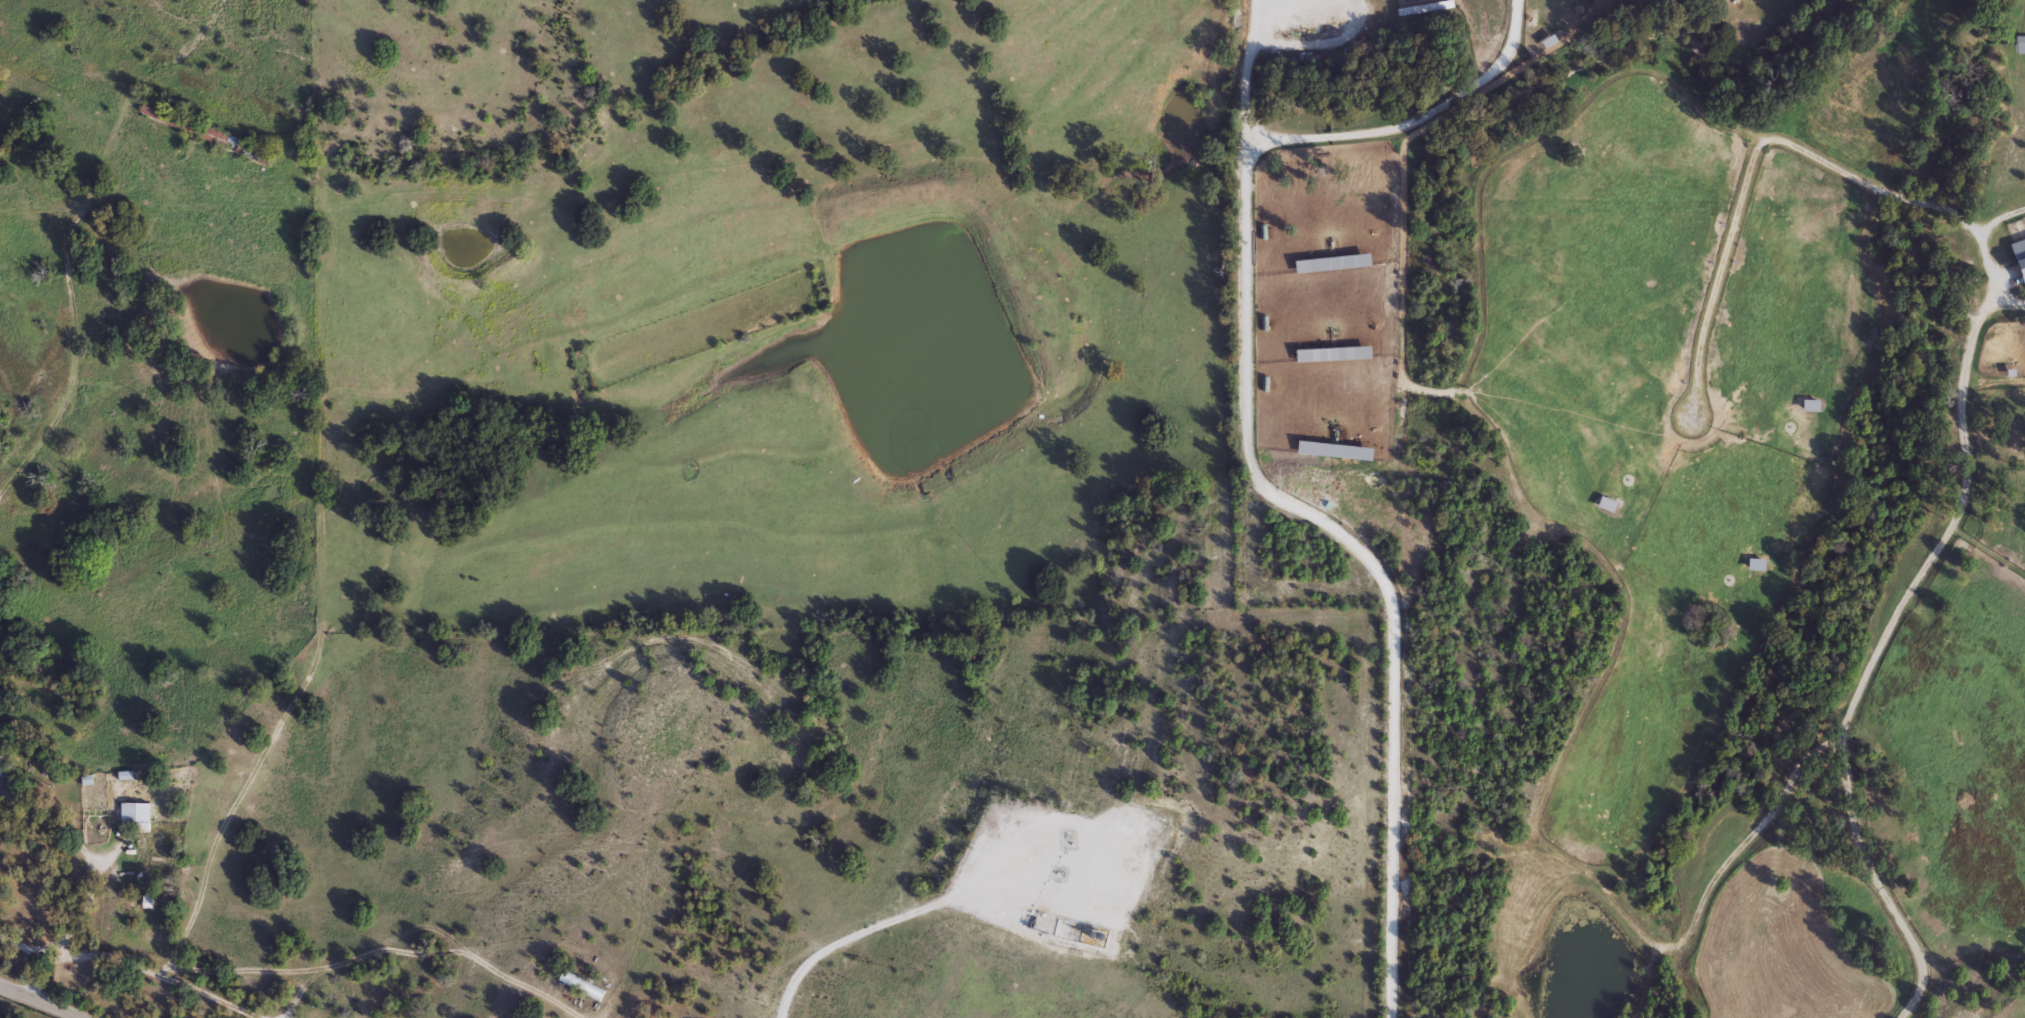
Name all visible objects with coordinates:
building: (1547, 43)
road: (1245, 68)
road: (114, 125)
building: (204, 132)
road: (1983, 253)
building: (2019, 257)
building: (1332, 265)
building: (1333, 355)
road: (61, 392)
building: (1810, 407)
road: (1247, 448)
building: (1335, 451)
building: (1607, 505)
building: (1755, 565)
road: (1875, 659)
building: (135, 814)
road: (213, 852)
road: (857, 934)
road: (23, 946)
road: (456, 946)
road: (236, 968)
building: (580, 986)
road: (298, 992)
road: (213, 994)
road: (38, 1000)

